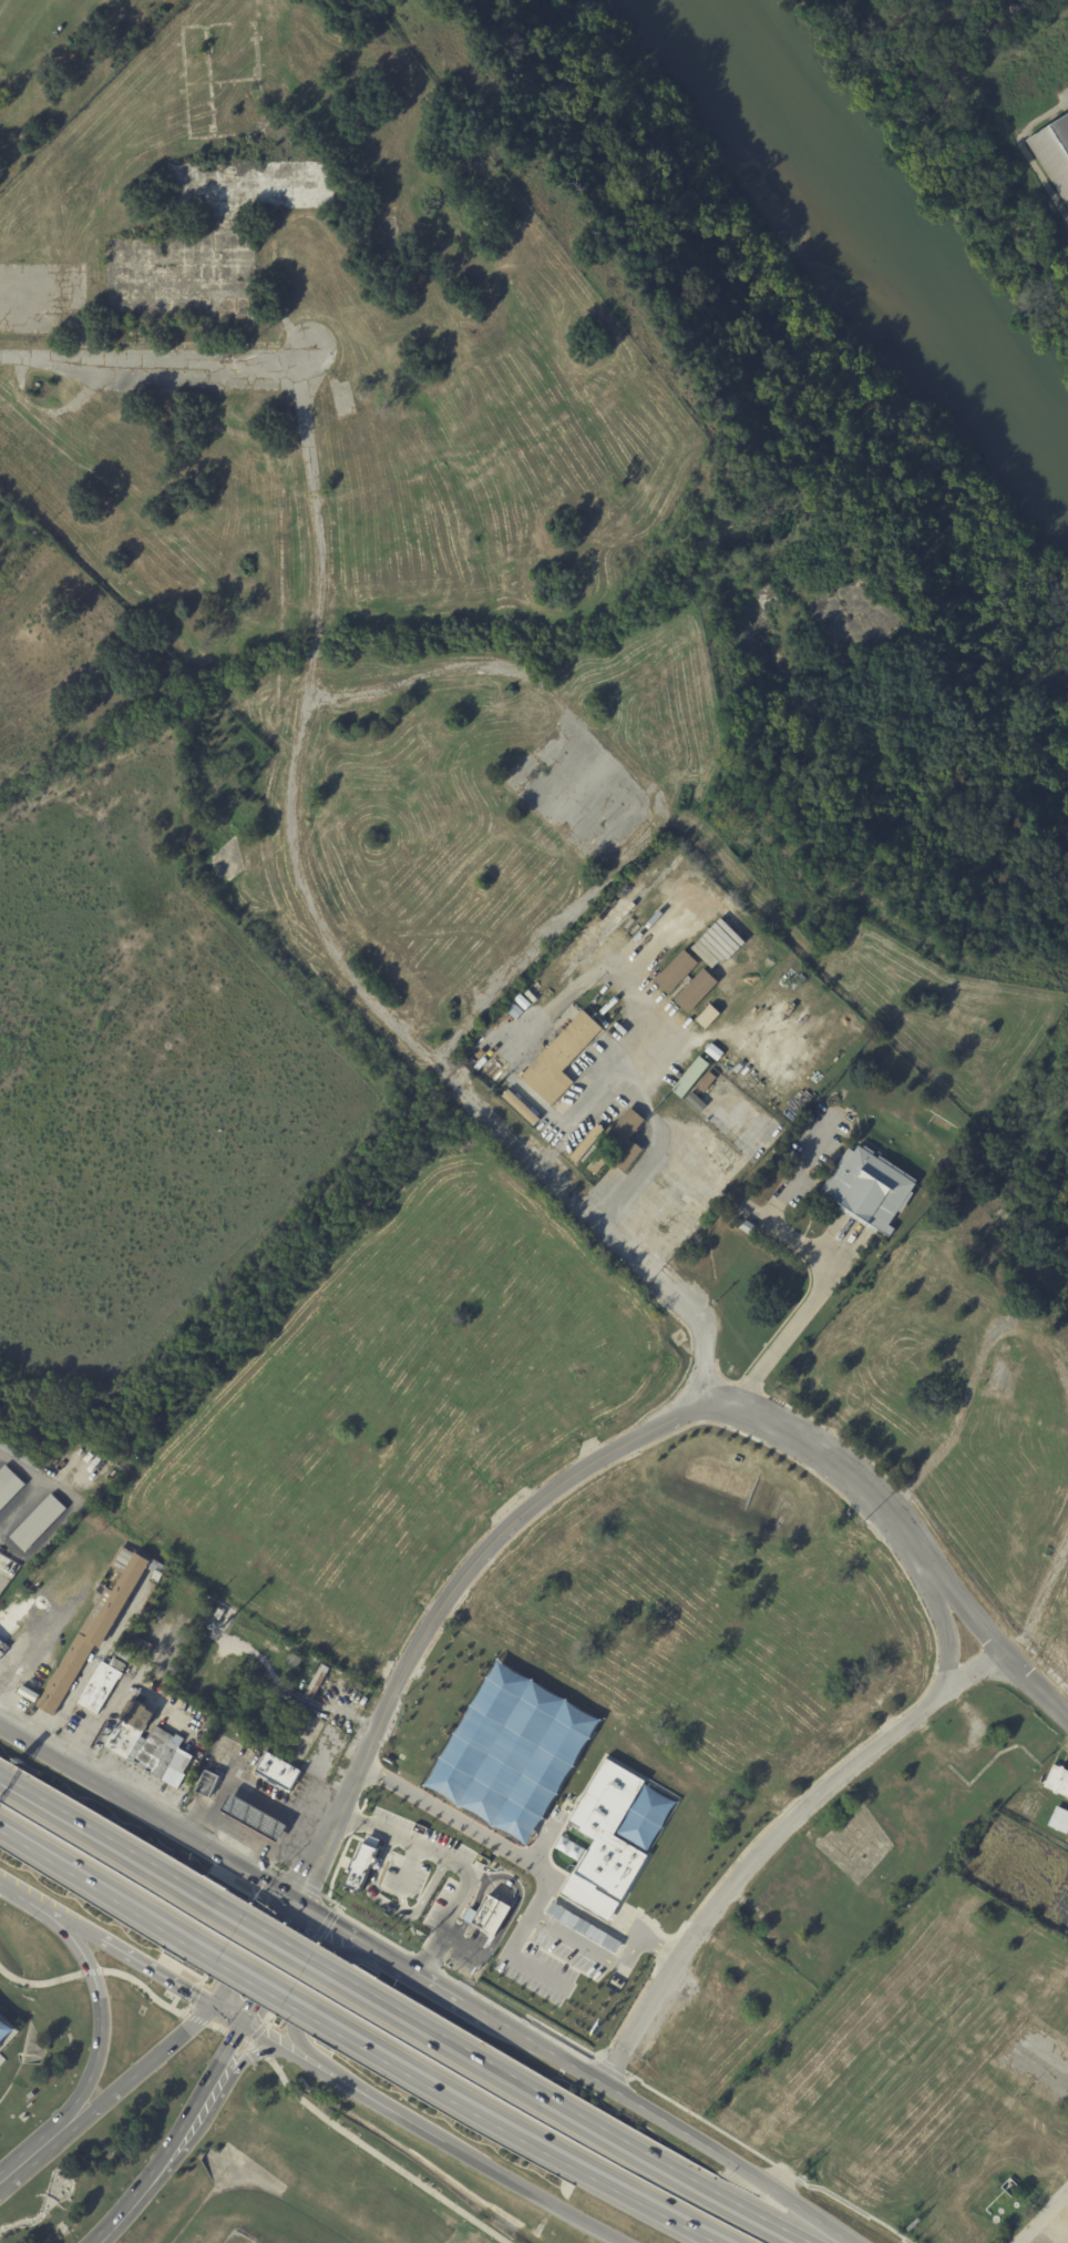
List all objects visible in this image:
road: (931, 79)
wastewater plant: (1004, 109)
road: (1040, 120)
building: (1052, 156)
road: (1040, 181)
river: (884, 245)
road: (151, 363)
road: (315, 502)
road: (314, 649)
building: (672, 861)
building: (716, 944)
building: (675, 970)
road: (355, 979)
building: (541, 985)
building: (695, 989)
building: (523, 1002)
building: (513, 1009)
building: (706, 1016)
building: (566, 1054)
building: (727, 1066)
building: (793, 1074)
building: (692, 1077)
building: (707, 1081)
building: (695, 1101)
building: (522, 1108)
building: (774, 1138)
building: (627, 1139)
building: (587, 1144)
building: (599, 1162)
building: (871, 1189)
road: (612, 1199)
road: (825, 1257)
building: (21, 1456)
building: (88, 1462)
road: (583, 1465)
road: (38, 1484)
building: (9, 1487)
building: (39, 1523)
building: (8, 1566)
building: (220, 1615)
building: (94, 1634)
building: (137, 1646)
building: (2, 1648)
road: (10, 1654)
road: (94, 1661)
building: (295, 1662)
building: (119, 1665)
building: (318, 1682)
road: (1035, 1685)
building: (101, 1689)
road: (538, 1702)
building: (131, 1731)
road: (512, 1748)
building: (542, 1752)
building: (164, 1754)
building: (278, 1771)
road: (135, 1778)
building: (1057, 1780)
building: (208, 1784)
road: (247, 1788)
road: (484, 1795)
road: (311, 1801)
road: (146, 1814)
building: (254, 1816)
gas station: (254, 1816)
road: (533, 1818)
building: (1058, 1819)
road: (527, 1827)
road: (543, 1832)
road: (107, 1837)
building: (612, 1838)
road: (492, 1842)
road: (777, 1845)
road: (265, 1847)
road: (533, 1849)
road: (258, 1862)
building: (363, 1864)
road: (455, 1864)
road: (93, 1887)
road: (13, 1893)
traffic signals: (295, 1899)
building: (492, 1918)
road: (62, 1923)
road: (338, 1926)
building: (583, 1927)
road: (638, 1935)
road: (567, 1936)
road: (280, 1938)
road: (74, 1943)
road: (248, 1949)
road: (276, 1965)
road: (530, 1971)
road: (154, 1975)
road: (254, 1984)
road: (437, 1984)
traffic signals: (213, 2008)
road: (295, 2010)
road: (228, 2018)
traffic signals: (244, 2028)
road: (260, 2037)
parking lot: (6, 2040)
road: (557, 2042)
road: (545, 2049)
road: (270, 2058)
road: (91, 2071)
road: (136, 2072)
road: (321, 2073)
road: (576, 2112)
road: (188, 2115)
road: (405, 2119)
road: (206, 2121)
road: (514, 2137)
airport: (175, 2141)
road: (727, 2159)
road: (30, 2162)
road: (533, 2192)
road: (1044, 2217)
road: (113, 2223)

